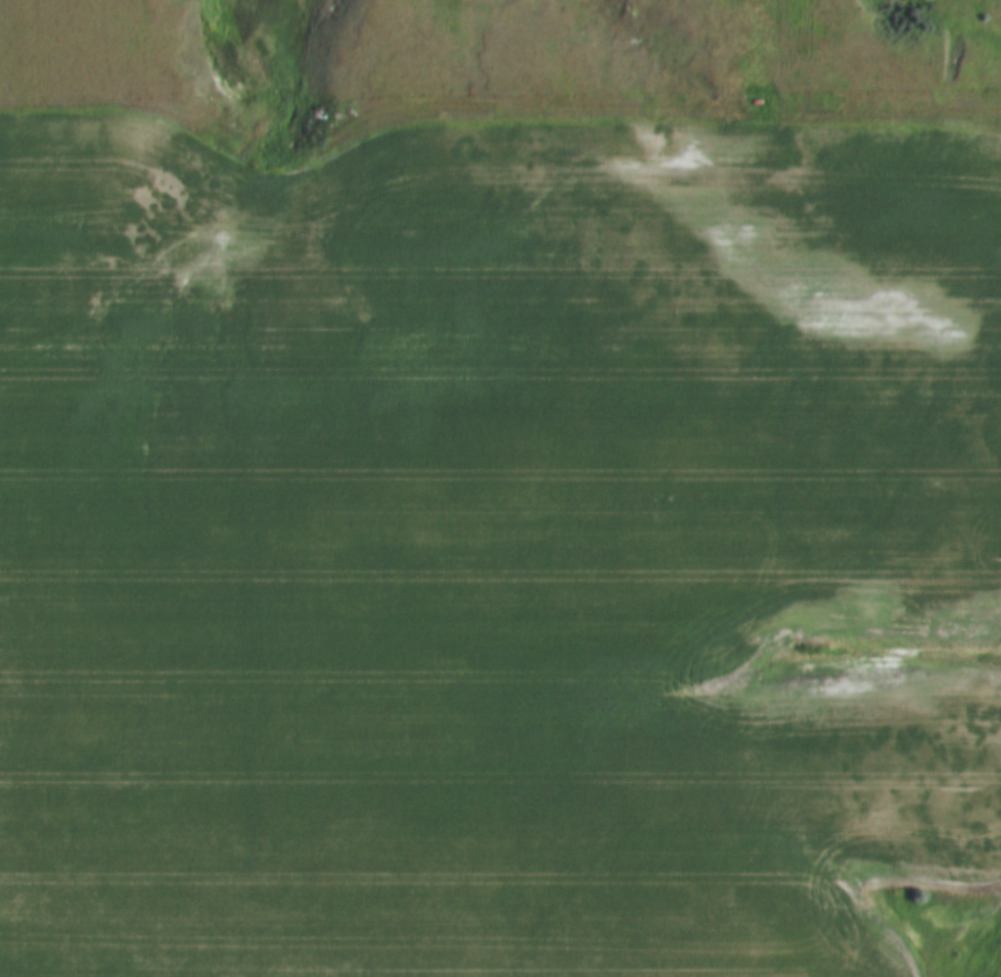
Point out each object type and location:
road: (441, 291)

